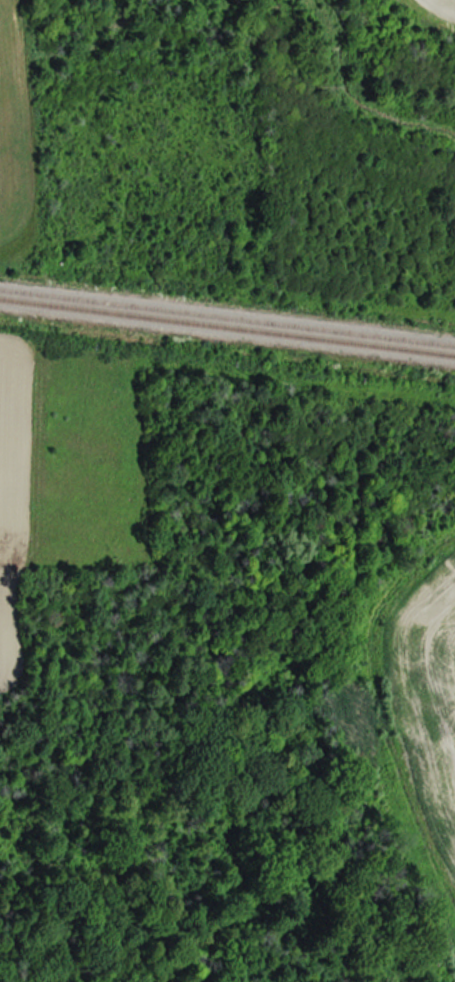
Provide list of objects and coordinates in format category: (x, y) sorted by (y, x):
river: (357, 54)
railway: (227, 318)
railway: (227, 327)

